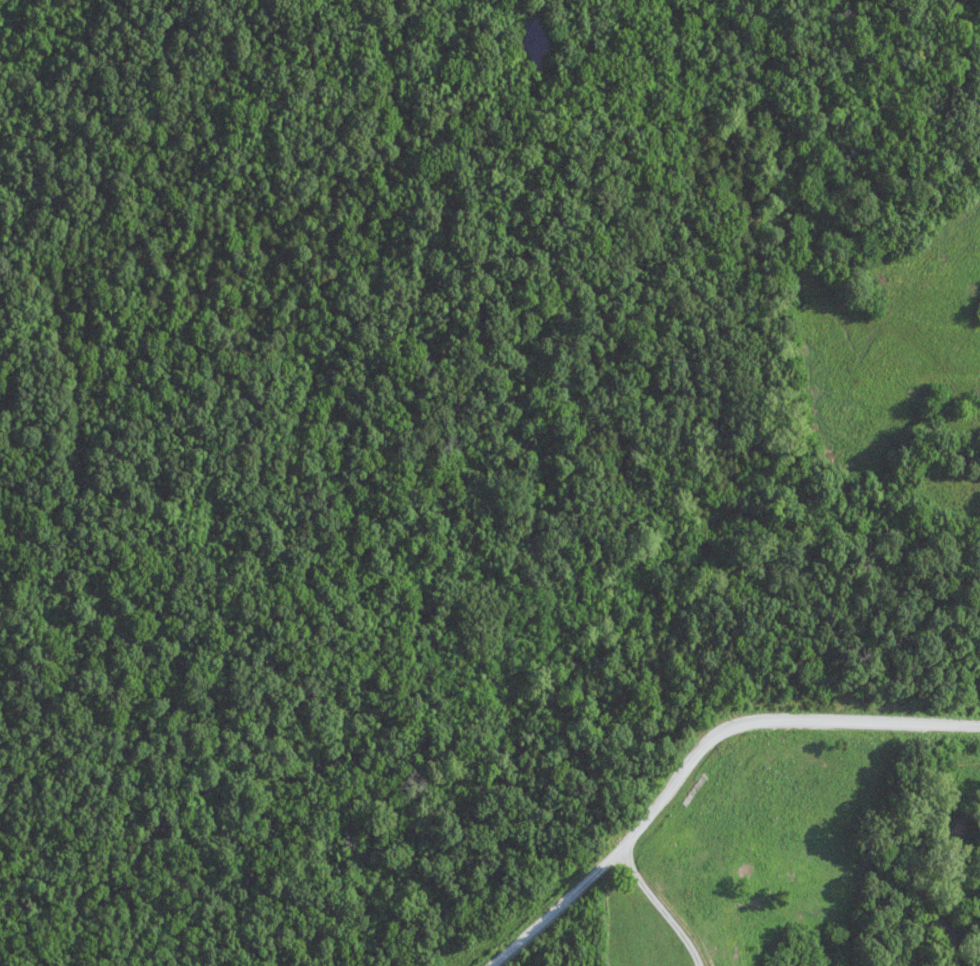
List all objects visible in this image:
road: (701, 759)
road: (657, 909)

